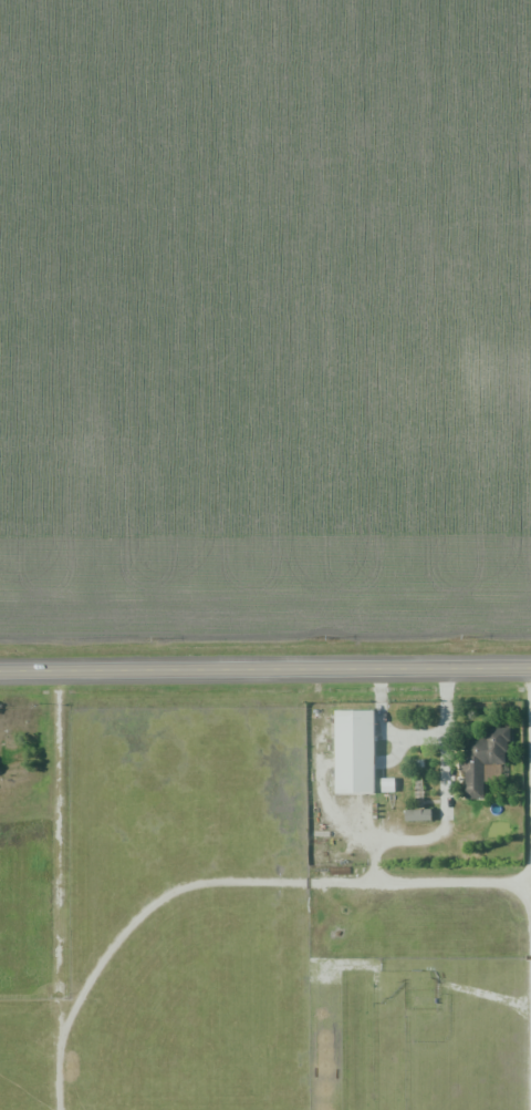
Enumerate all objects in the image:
road: (265, 664)
building: (356, 750)
building: (485, 758)

